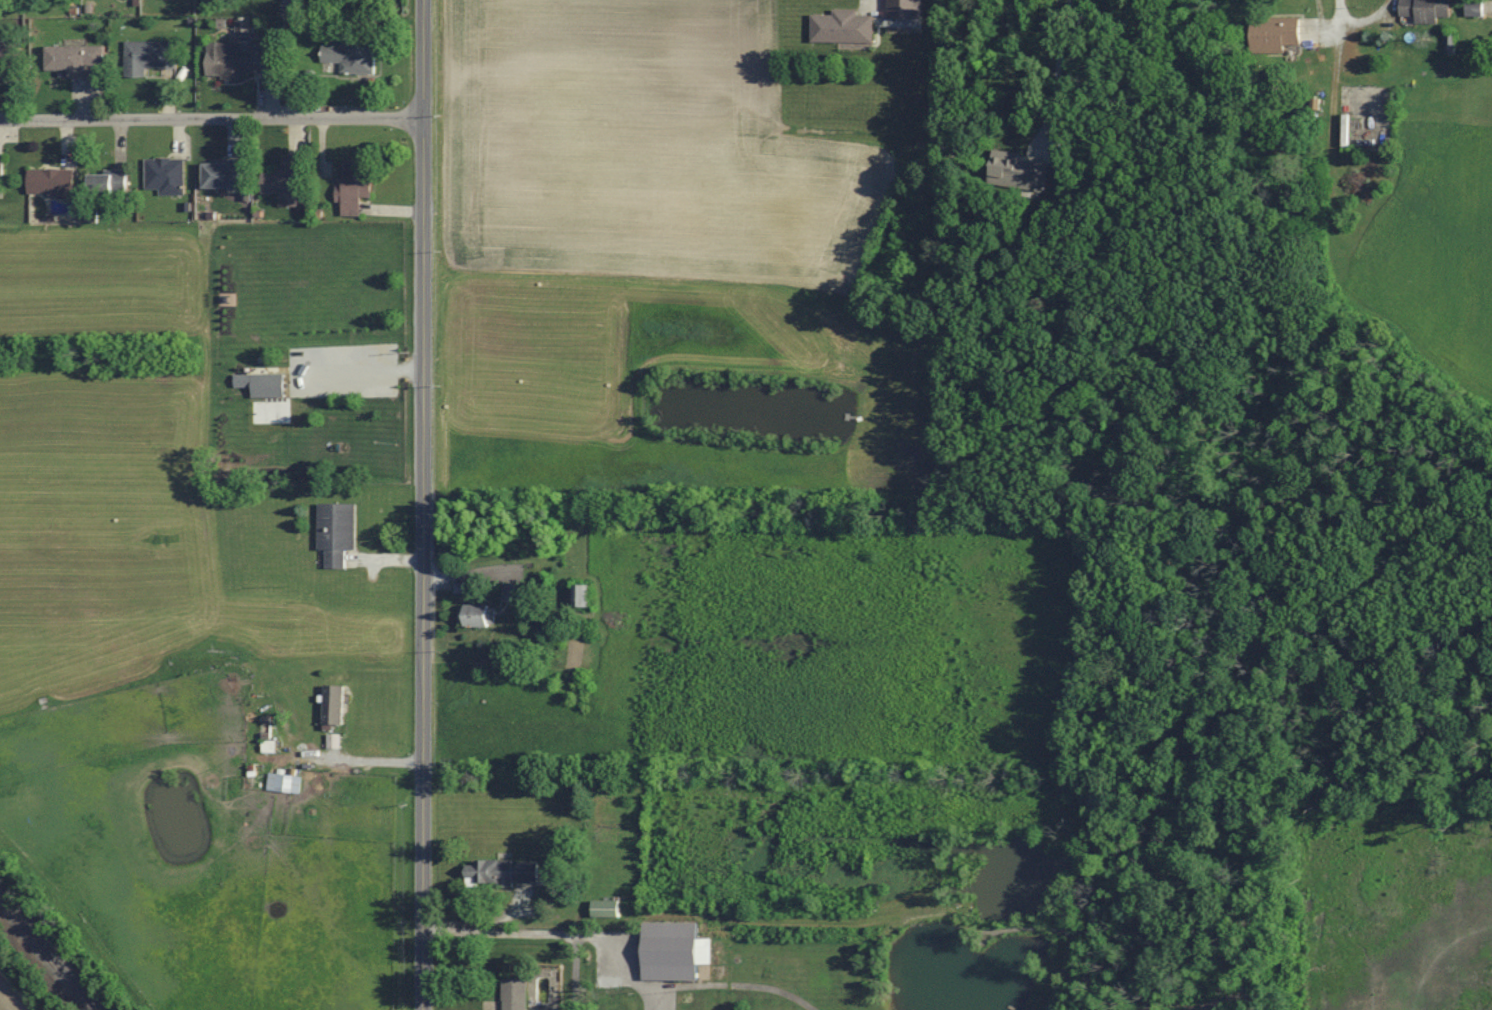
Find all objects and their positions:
building: (1476, 7)
building: (1427, 10)
road: (1365, 20)
road: (1325, 21)
building: (844, 27)
building: (1277, 34)
building: (354, 52)
building: (150, 56)
building: (10, 58)
building: (74, 59)
building: (237, 59)
road: (423, 59)
road: (1057, 71)
road: (211, 118)
building: (1018, 170)
building: (2, 171)
building: (166, 175)
building: (221, 175)
building: (52, 182)
building: (109, 183)
building: (291, 183)
building: (356, 187)
building: (263, 385)
building: (338, 532)
road: (423, 564)
building: (515, 593)
building: (582, 596)
building: (478, 615)
building: (335, 705)
building: (269, 747)
road: (358, 760)
building: (284, 783)
building: (504, 873)
building: (607, 909)
road: (554, 934)
building: (675, 951)
railway: (45, 957)
building: (515, 995)

